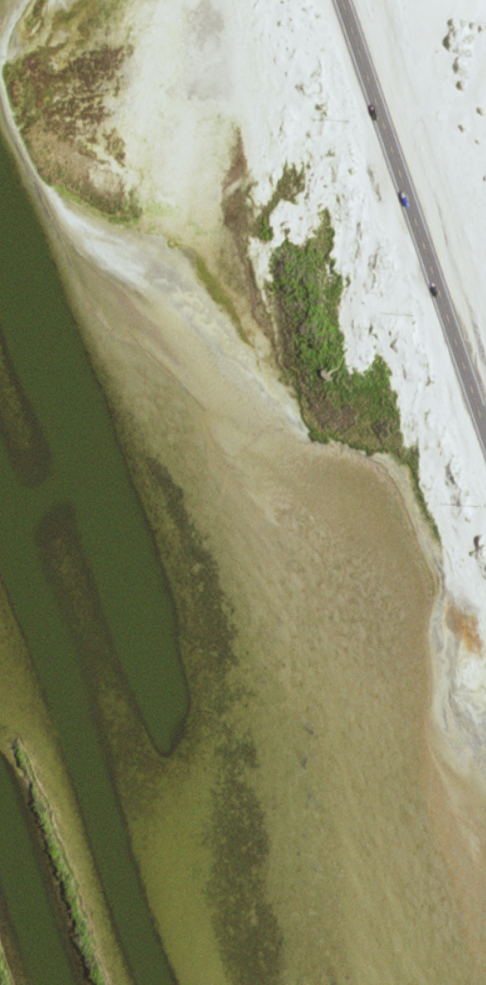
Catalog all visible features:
power tower: (350, 118)
road: (413, 212)
power tower: (415, 315)
power tower: (477, 502)

